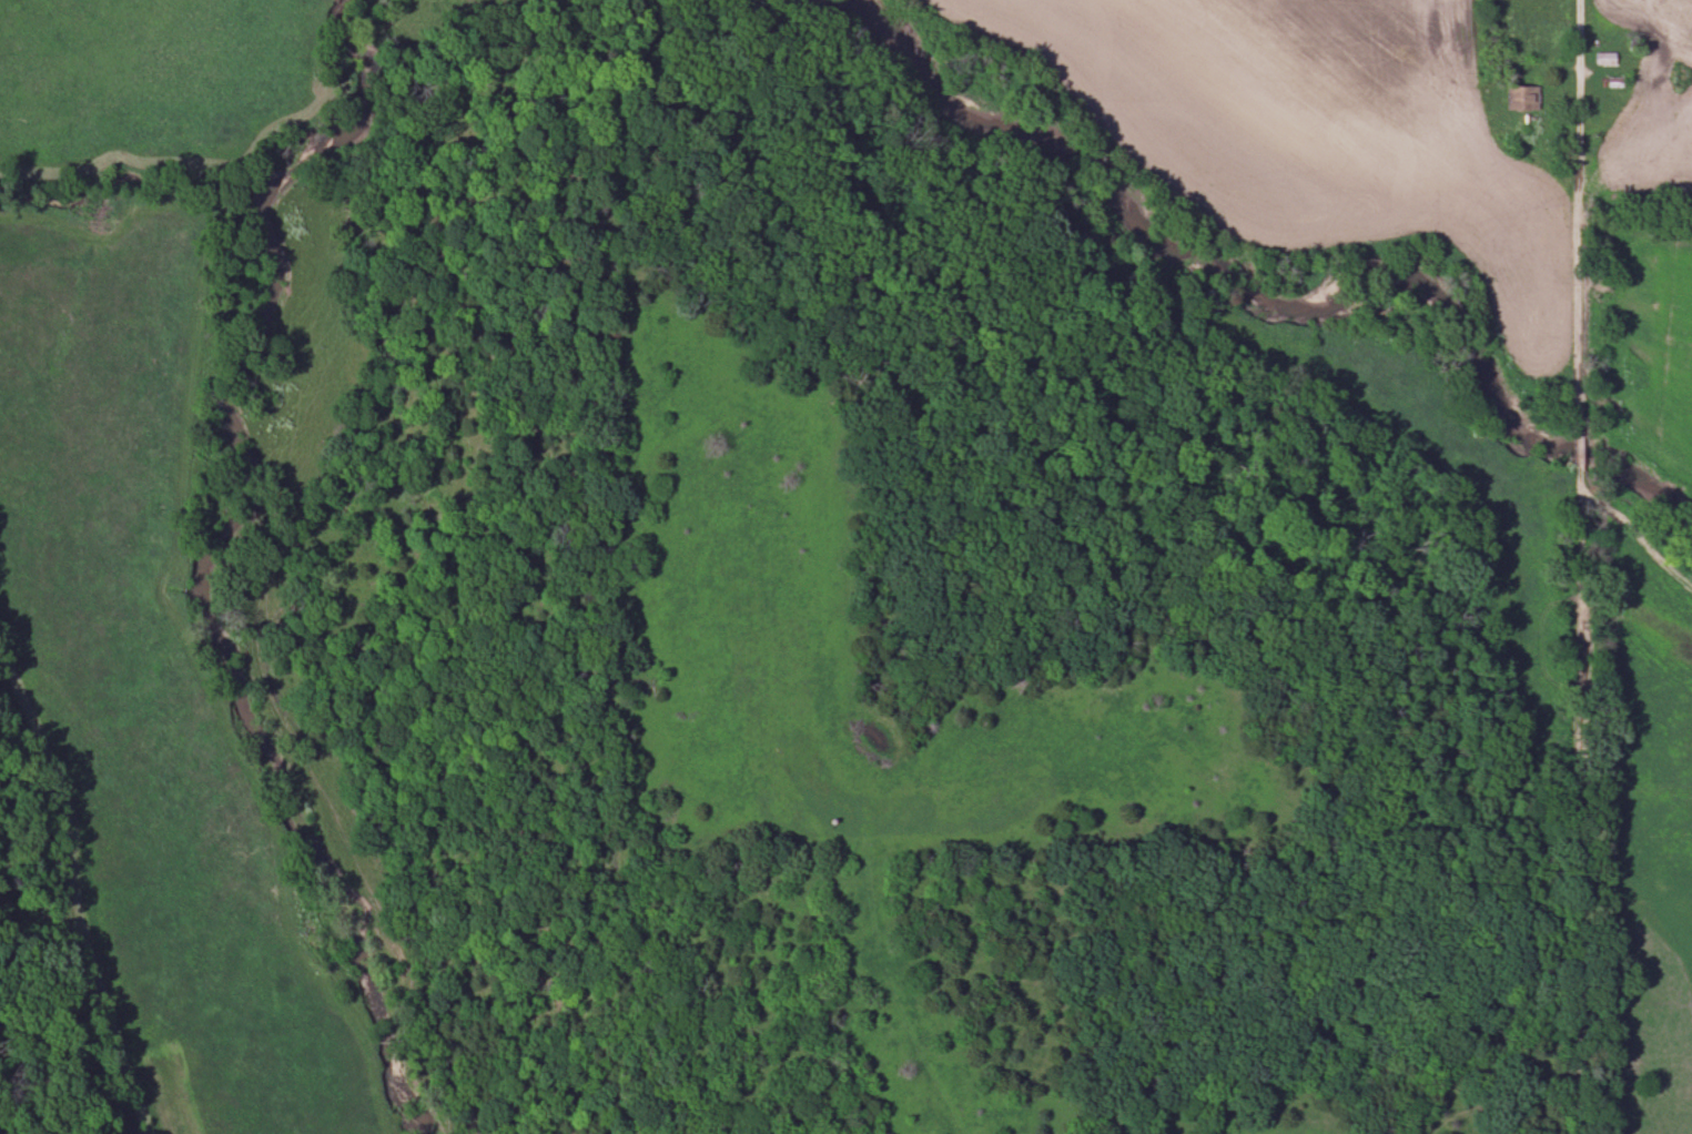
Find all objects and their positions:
building: (1604, 60)
building: (1519, 99)
road: (1570, 566)

